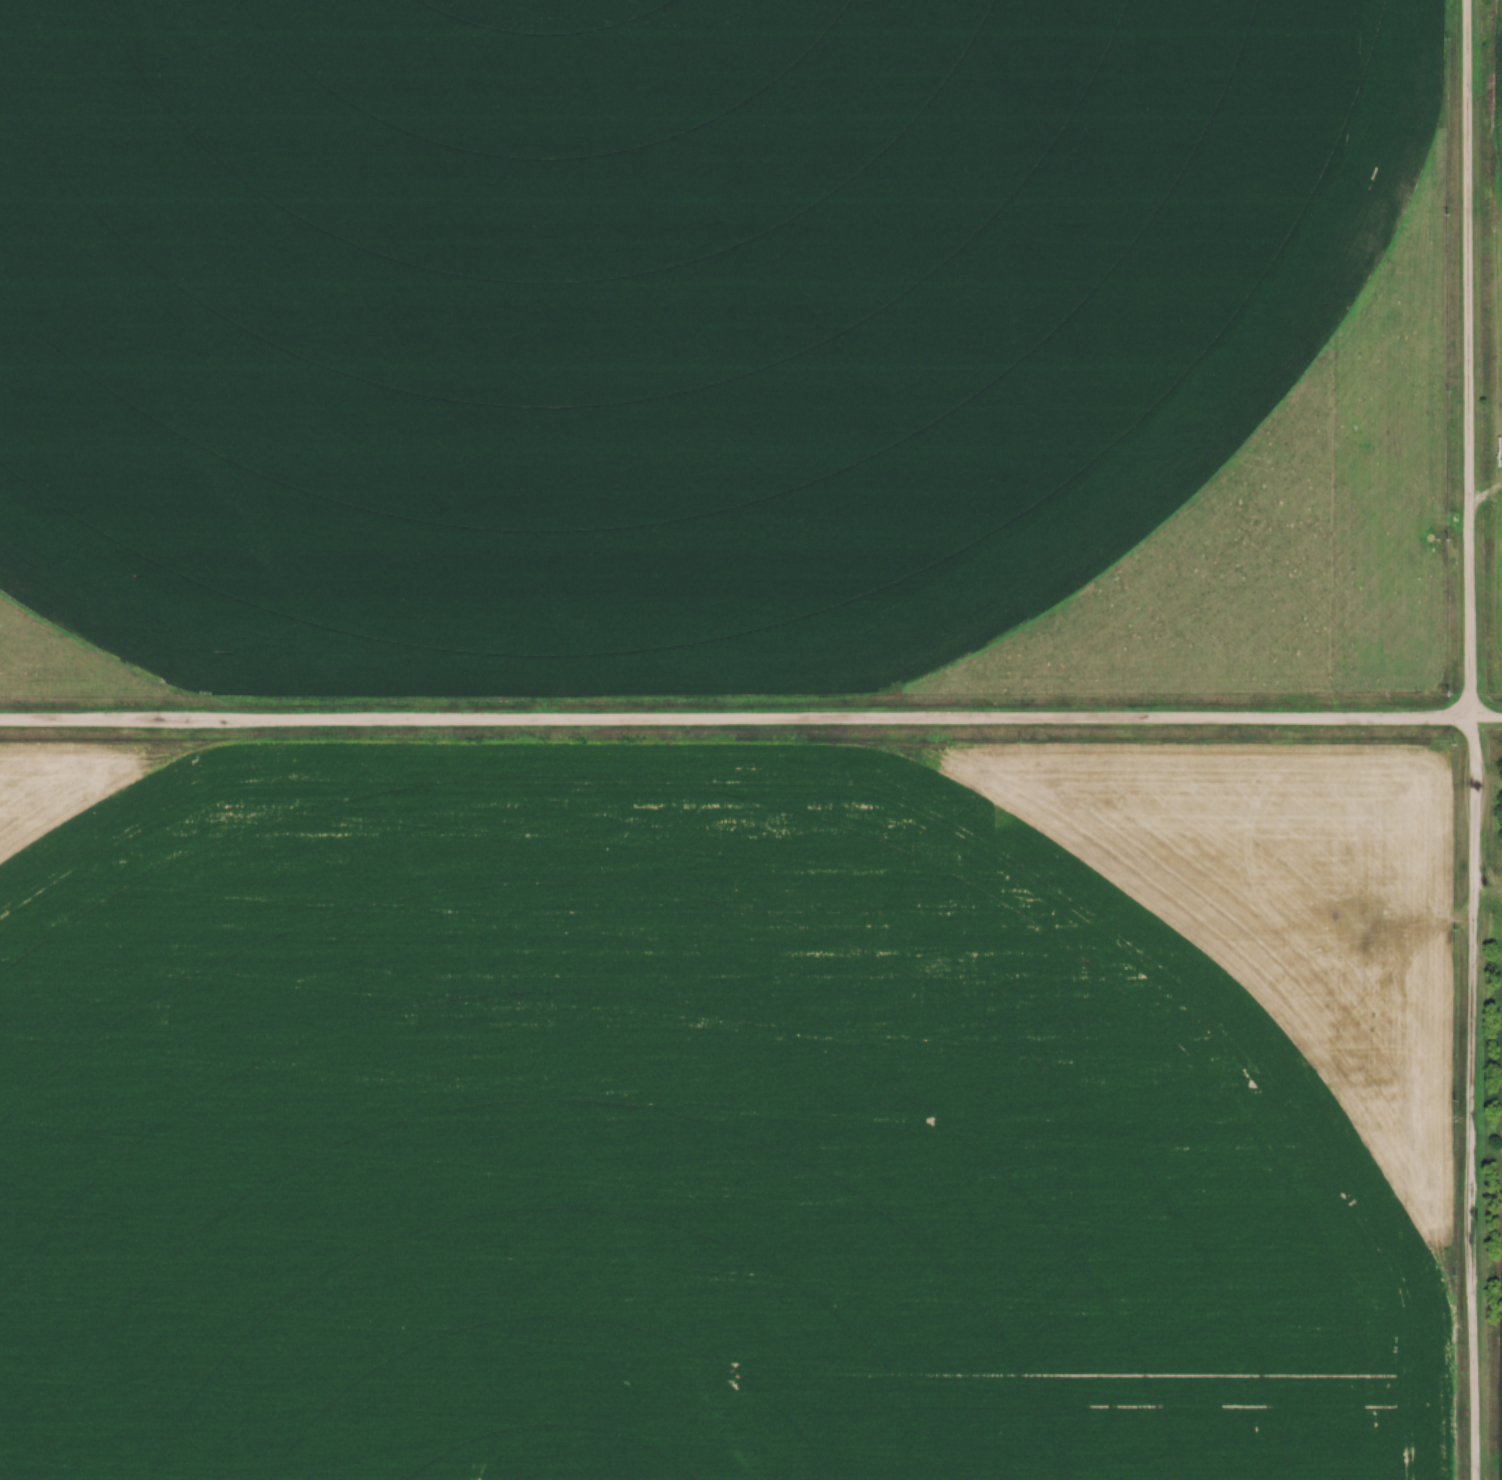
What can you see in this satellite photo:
road: (737, 723)
road: (1488, 726)
road: (1474, 739)

